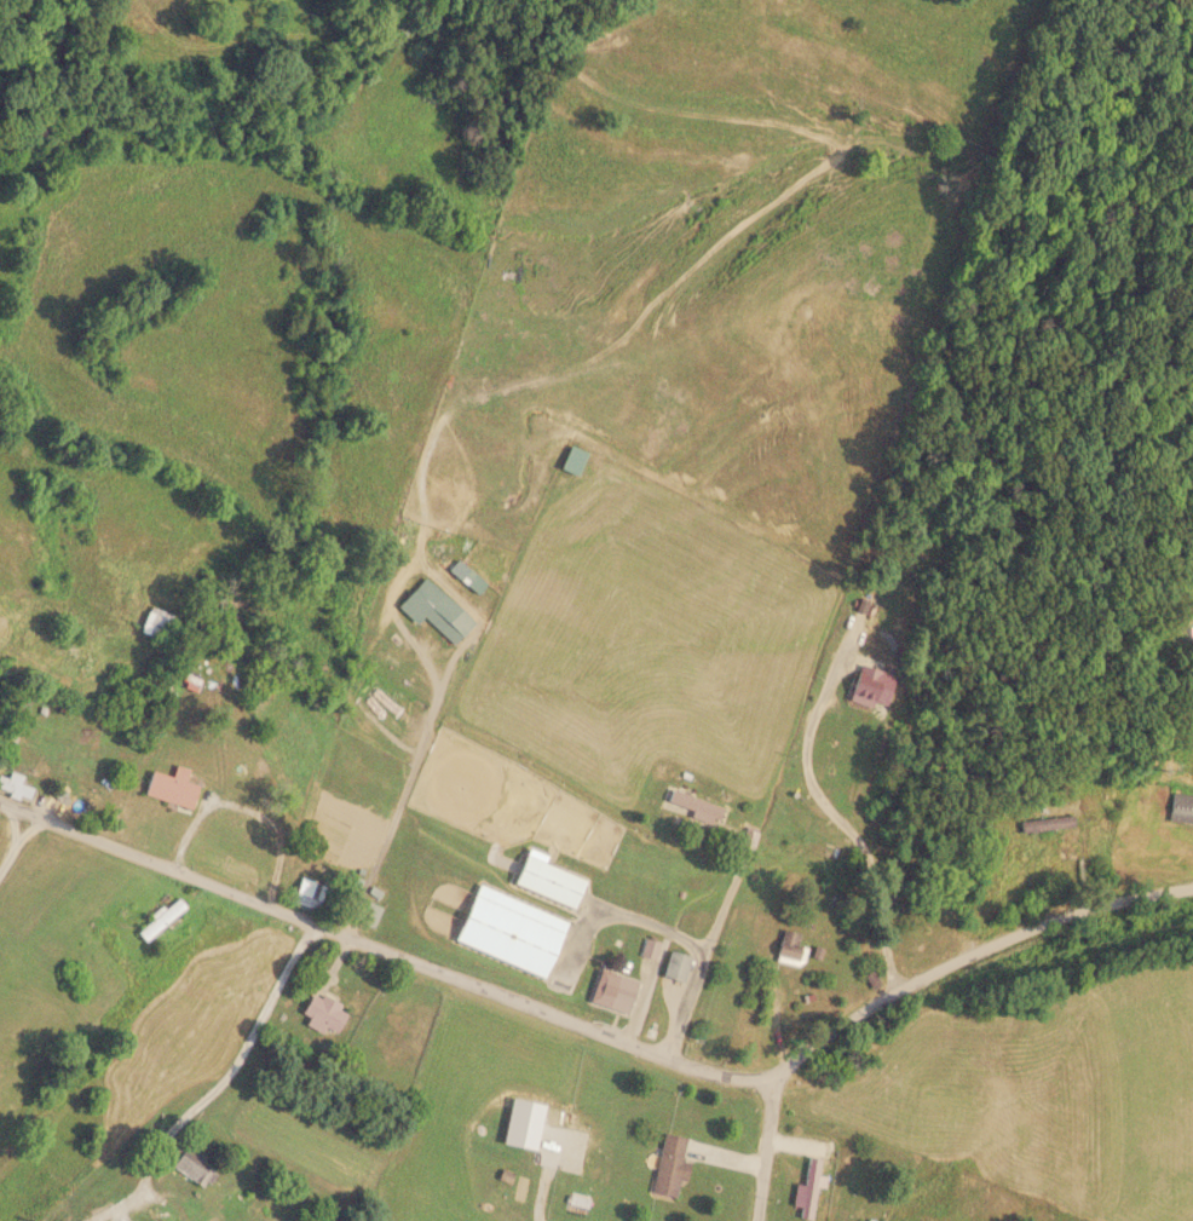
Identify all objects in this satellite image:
building: (461, 572)
building: (433, 610)
building: (869, 686)
building: (13, 788)
building: (169, 788)
building: (691, 806)
building: (1181, 808)
building: (1067, 834)
building: (547, 882)
building: (157, 920)
building: (508, 931)
road: (379, 946)
building: (789, 948)
road: (963, 952)
building: (675, 966)
building: (621, 993)
building: (321, 1012)
road: (755, 1147)
building: (190, 1164)
building: (668, 1165)
building: (807, 1187)

